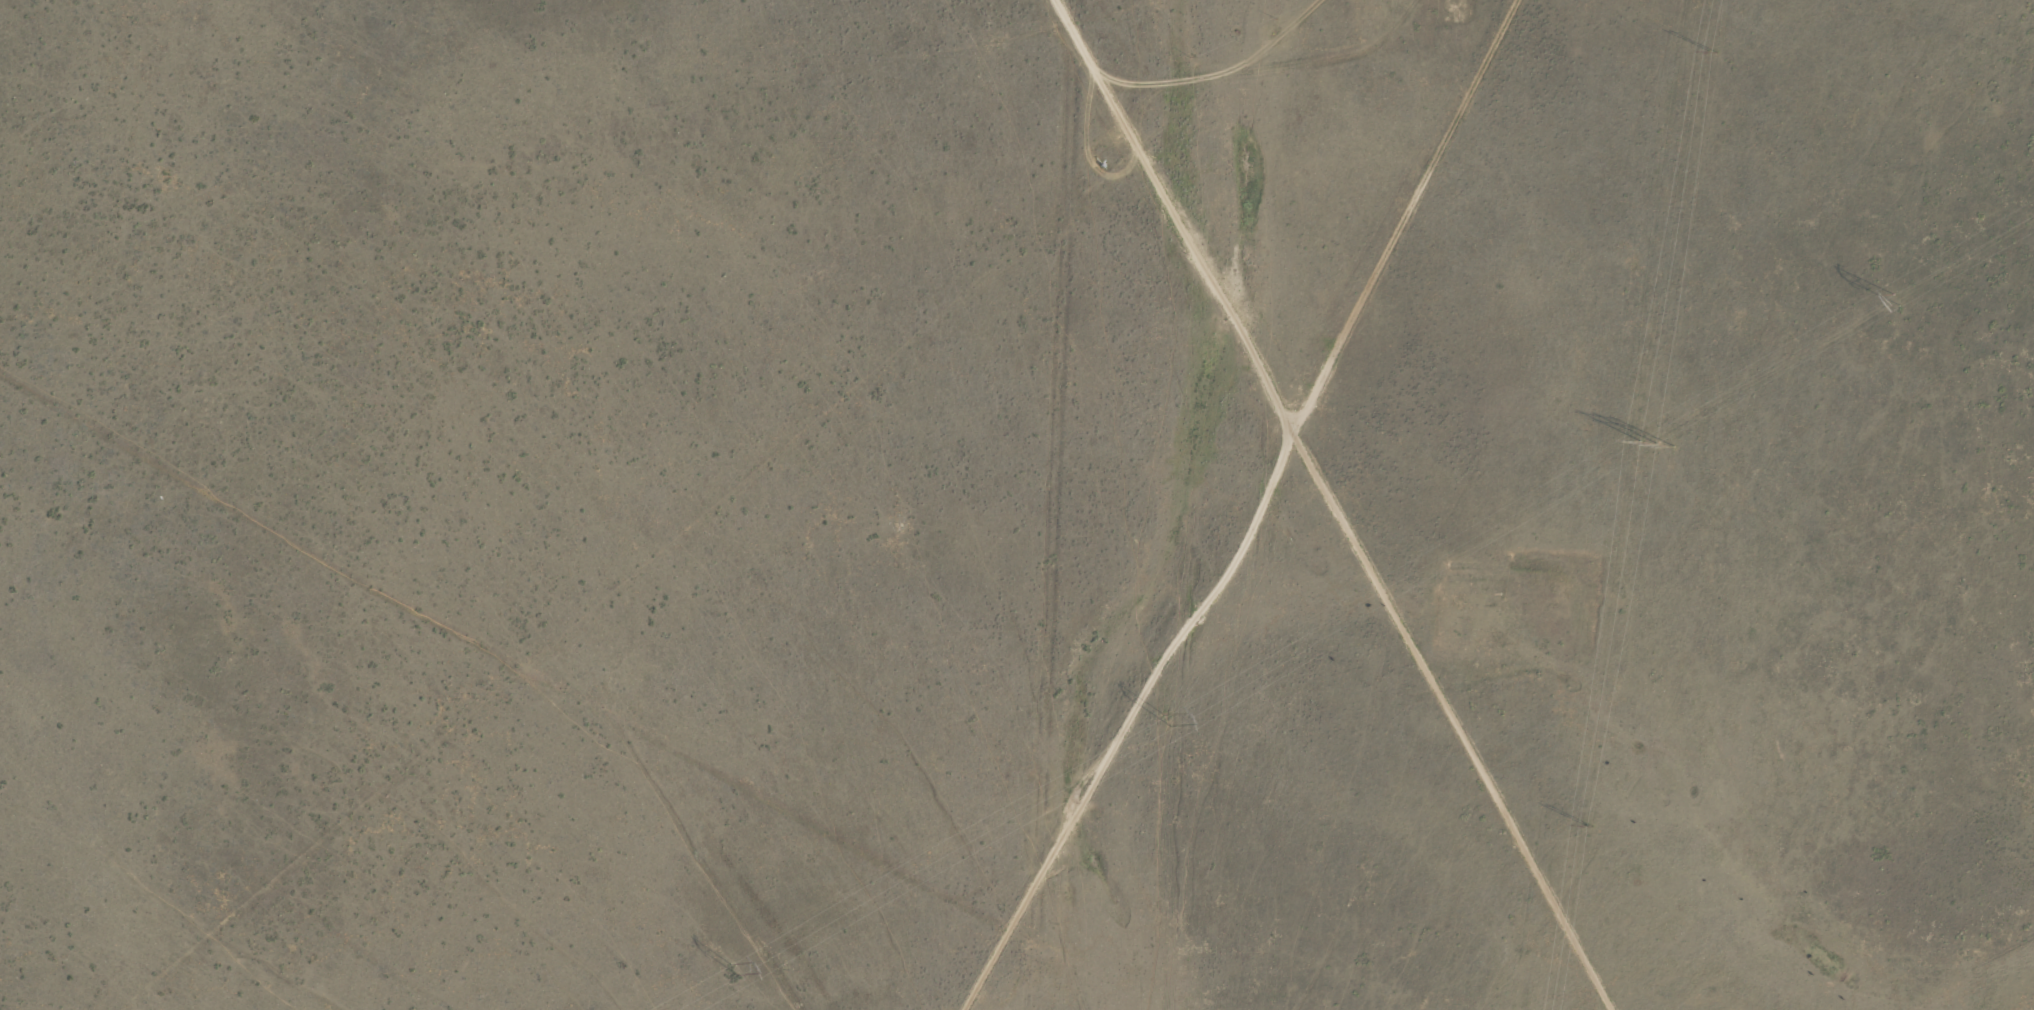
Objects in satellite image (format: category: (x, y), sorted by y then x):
power tower: (1714, 48)
power tower: (1893, 302)
road: (1274, 338)
power tower: (1656, 445)
road: (567, 713)
power tower: (1166, 718)
power tower: (1588, 825)
power tower: (734, 964)

